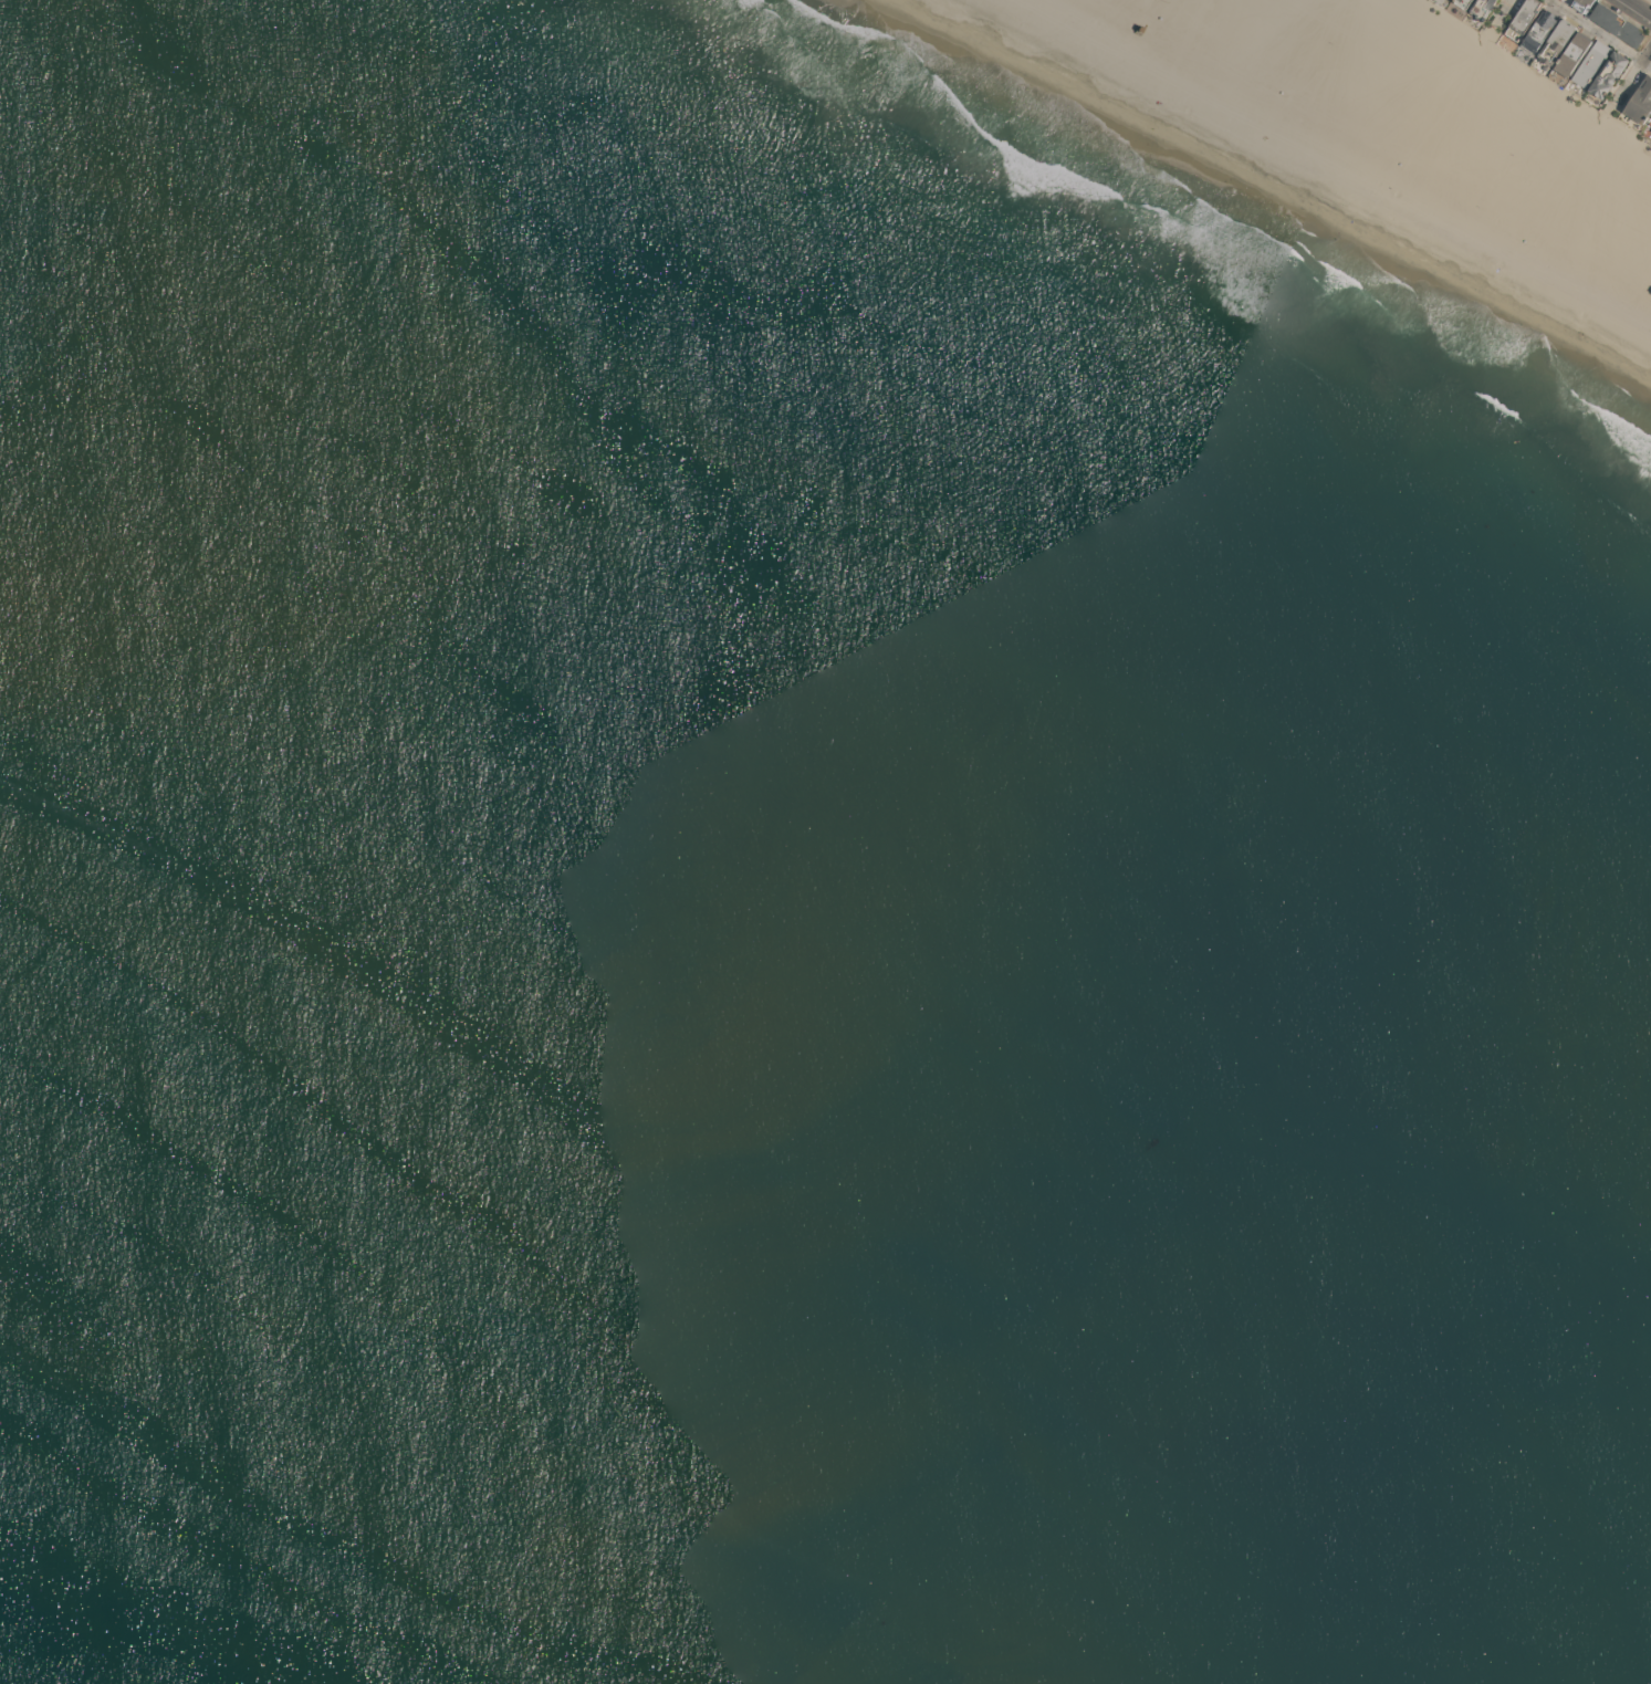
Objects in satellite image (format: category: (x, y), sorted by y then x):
road: (1650, 0)
building: (1463, 3)
building: (1581, 4)
building: (1482, 8)
road: (1639, 8)
road: (1509, 10)
building: (1522, 19)
building: (1616, 24)
building: (1538, 30)
road: (1600, 32)
building: (1556, 41)
building: (1571, 53)
building: (1590, 63)
road: (1633, 73)
building: (1608, 74)
building: (1640, 101)
building: (1650, 129)

